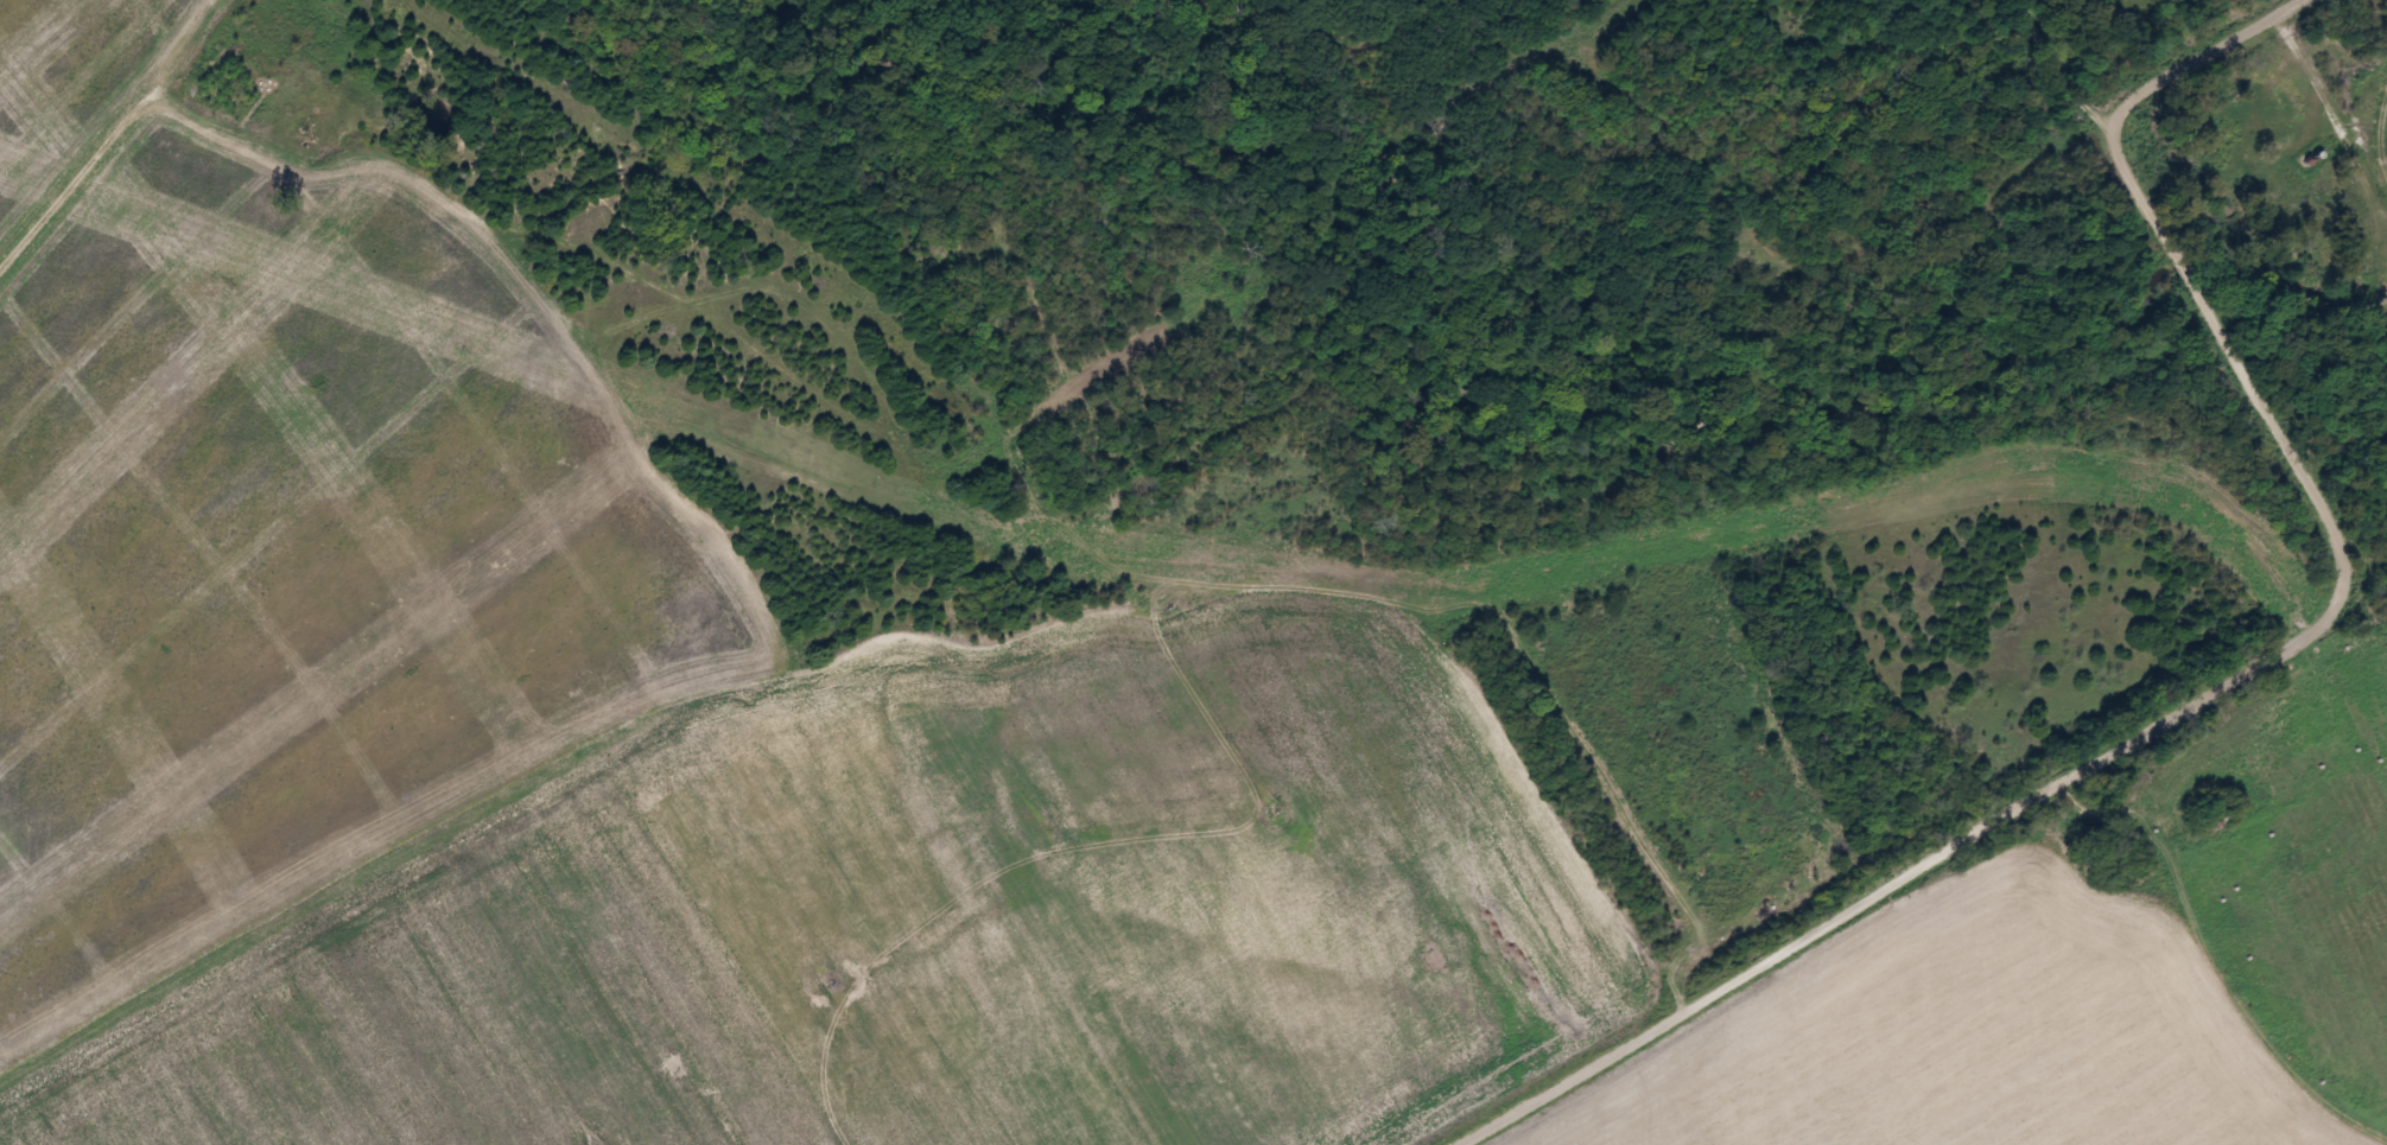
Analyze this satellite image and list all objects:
road: (2198, 61)
road: (113, 128)
road: (2121, 734)

